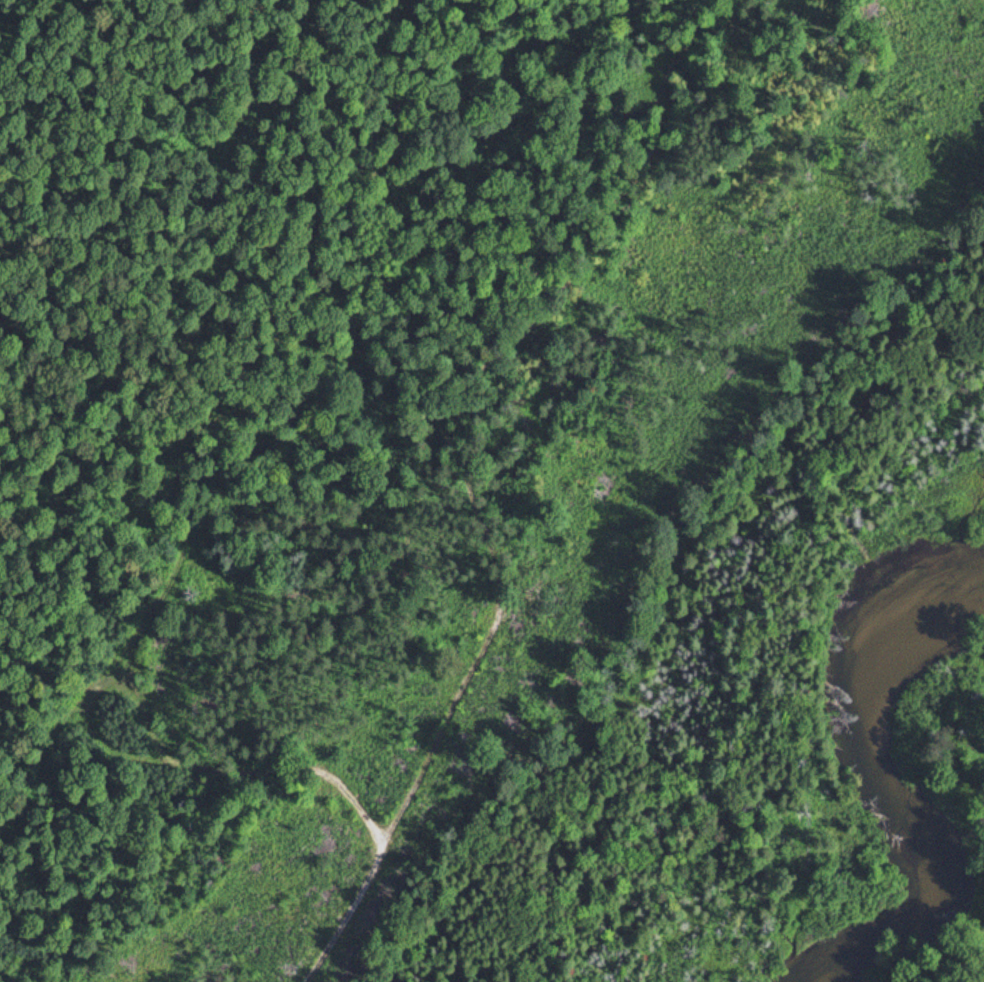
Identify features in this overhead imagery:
road: (87, 502)
road: (179, 552)
river: (887, 783)

